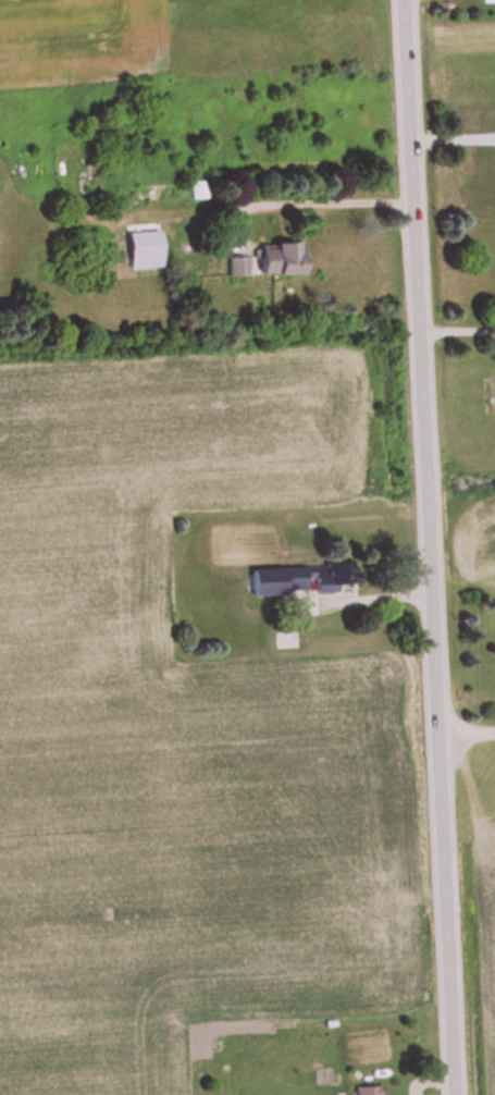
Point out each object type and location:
road: (449, 125)
building: (92, 187)
building: (153, 195)
road: (324, 200)
building: (141, 253)
building: (274, 261)
building: (236, 268)
road: (454, 328)
road: (423, 546)
building: (326, 574)
road: (463, 721)
building: (369, 1092)

